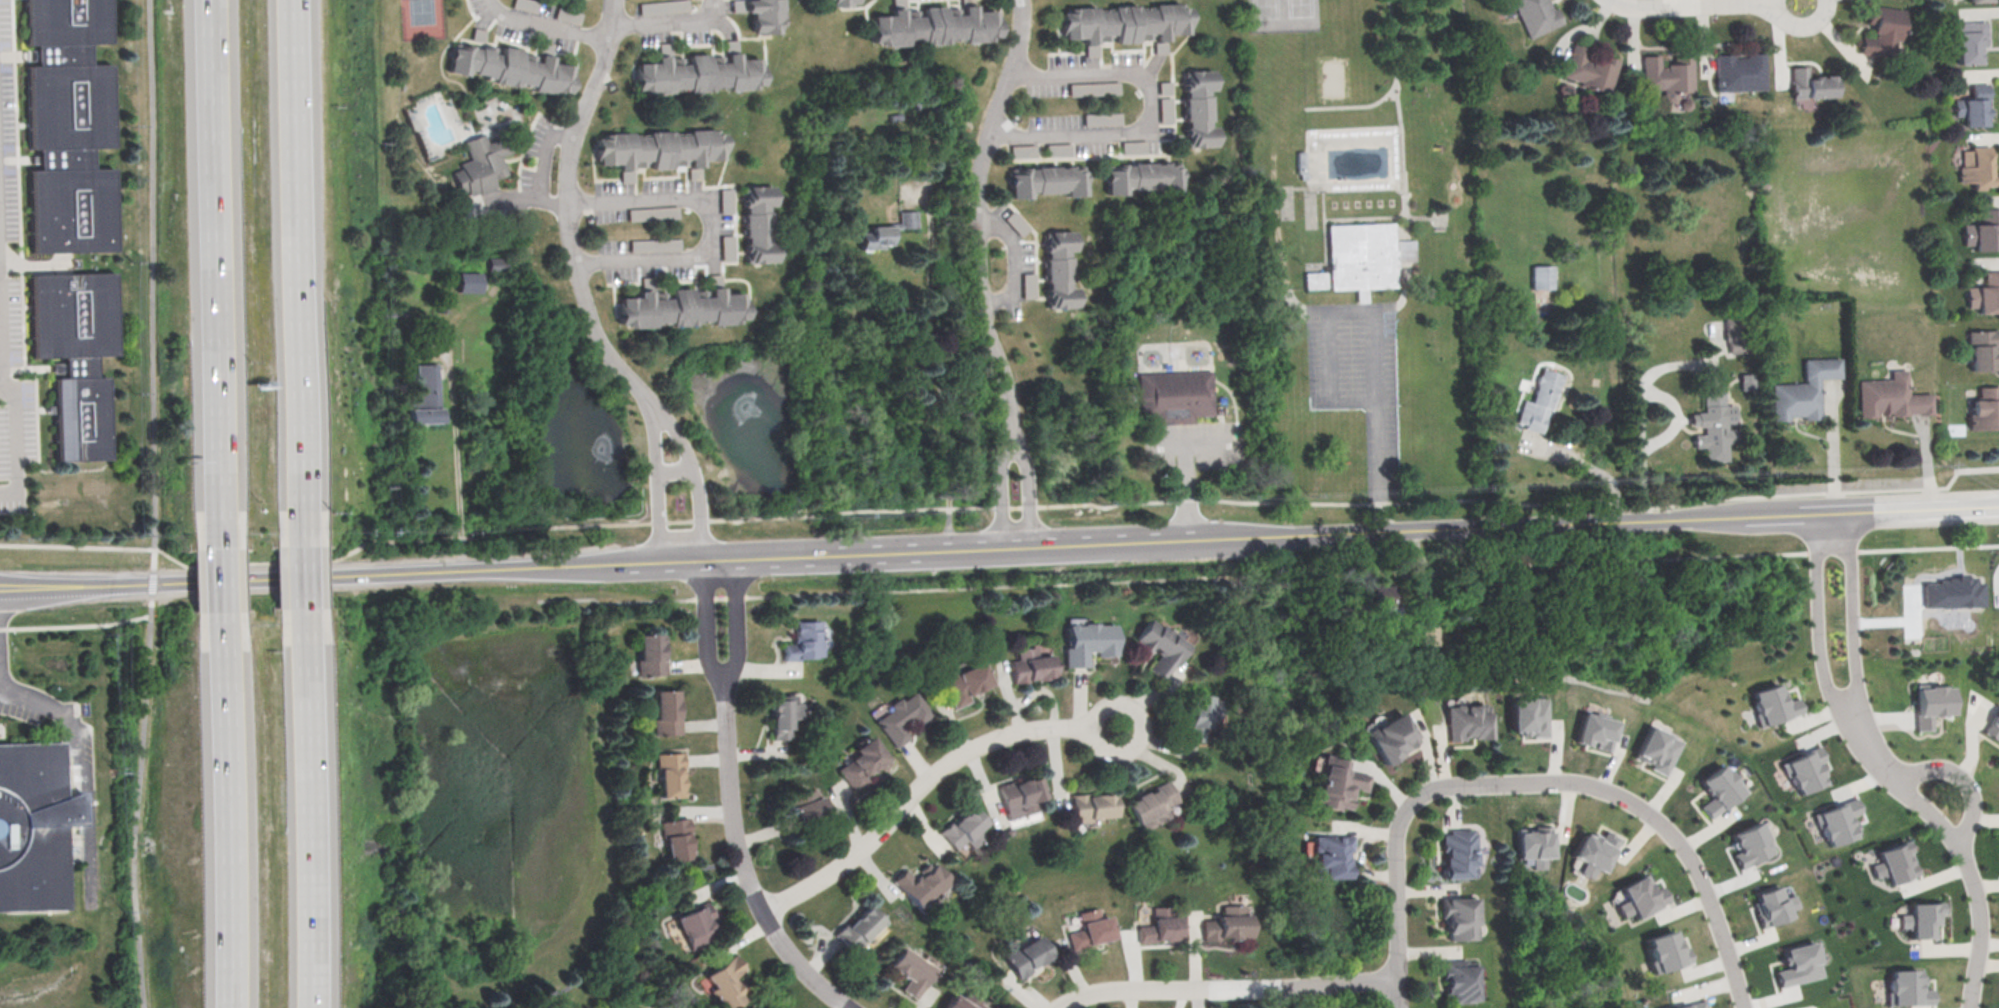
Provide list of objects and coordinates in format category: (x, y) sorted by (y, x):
building: (1976, 0)
building: (843, 2)
road: (1706, 3)
building: (663, 6)
building: (765, 15)
park: (1282, 15)
building: (1536, 15)
park: (423, 19)
building: (1125, 22)
road: (670, 23)
road: (545, 24)
building: (934, 25)
building: (1879, 31)
building: (1965, 40)
building: (511, 67)
building: (1589, 68)
building: (1739, 71)
building: (699, 72)
building: (1667, 76)
building: (1808, 83)
building: (1972, 105)
building: (1199, 108)
road: (1152, 111)
building: (1103, 119)
building: (68, 126)
building: (658, 149)
parking lot: (539, 163)
building: (483, 164)
building: (1976, 168)
building: (1142, 177)
building: (1045, 179)
road: (669, 197)
building: (725, 208)
building: (652, 212)
road: (569, 213)
road: (980, 215)
building: (1015, 222)
building: (757, 223)
building: (1982, 229)
building: (887, 230)
building: (655, 244)
building: (728, 246)
road: (212, 255)
road: (292, 255)
building: (1366, 256)
building: (493, 263)
road: (1015, 263)
building: (1059, 268)
building: (1542, 276)
building: (468, 281)
building: (1314, 282)
building: (1027, 285)
building: (1985, 293)
parking lot: (11, 302)
building: (682, 307)
building: (419, 309)
road: (1376, 311)
building: (1731, 334)
building: (1981, 348)
building: (75, 355)
parking lot: (1361, 381)
road: (940, 386)
building: (1804, 390)
building: (426, 394)
building: (1177, 396)
building: (1889, 396)
building: (1539, 400)
road: (1640, 402)
building: (1984, 409)
road: (155, 417)
building: (1713, 424)
road: (15, 443)
road: (1198, 444)
parking lot: (1198, 448)
road: (1594, 465)
road: (457, 471)
road: (696, 477)
road: (658, 485)
road: (1027, 487)
road: (1000, 488)
road: (1185, 492)
road: (1000, 506)
road: (1386, 516)
road: (999, 547)
road: (1267, 573)
road: (298, 578)
road: (217, 580)
building: (1952, 594)
building: (1381, 595)
road: (132, 620)
road: (1854, 625)
road: (55, 626)
road: (1818, 632)
building: (1428, 634)
building: (802, 638)
building: (1088, 639)
building: (1161, 641)
building: (649, 654)
building: (1029, 660)
building: (963, 679)
building: (1772, 705)
building: (1929, 705)
building: (782, 709)
building: (666, 711)
building: (1197, 712)
building: (901, 714)
building: (1530, 716)
building: (1468, 722)
building: (1993, 726)
building: (1595, 730)
building: (1392, 736)
building: (1657, 749)
road: (82, 756)
building: (860, 759)
building: (1804, 769)
building: (669, 774)
road: (1964, 779)
road: (925, 782)
building: (1337, 784)
building: (1718, 790)
building: (1021, 799)
building: (1152, 802)
road: (731, 804)
building: (803, 805)
building: (1089, 805)
building: (1838, 821)
road: (303, 826)
road: (223, 827)
building: (33, 828)
building: (964, 828)
parking lot: (87, 831)
road: (1671, 832)
building: (675, 839)
road: (136, 841)
building: (1749, 844)
building: (1534, 846)
building: (1595, 852)
building: (1459, 853)
road: (1968, 854)
building: (1330, 855)
road: (1398, 859)
building: (1893, 863)
building: (922, 884)
building: (1640, 897)
building: (1772, 906)
building: (1462, 916)
building: (1920, 919)
building: (1228, 923)
building: (857, 924)
road: (140, 927)
building: (694, 927)
building: (1163, 927)
building: (1093, 928)
road: (621, 933)
building: (1666, 951)
building: (1027, 956)
building: (1799, 964)
building: (911, 965)
building: (1463, 979)
building: (728, 982)
building: (1906, 987)
road: (1229, 989)
building: (963, 1000)
building: (1693, 1005)
building: (770, 1006)

